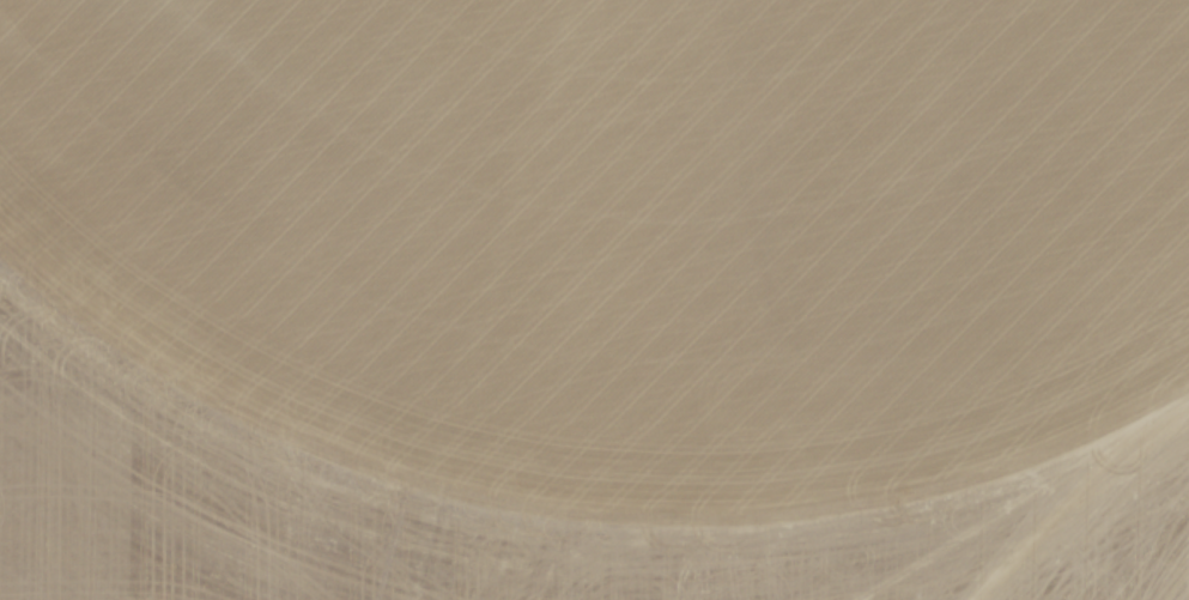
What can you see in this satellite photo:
crop: (625, 229)

